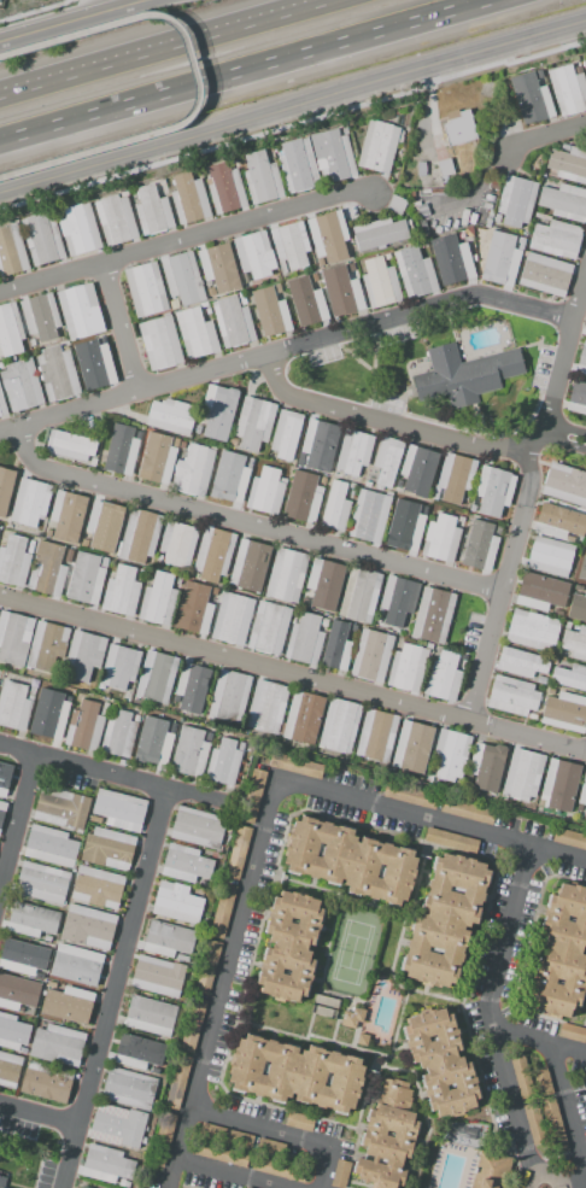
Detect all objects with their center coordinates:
road: (33, 11)
road: (68, 19)
road: (172, 49)
road: (312, 51)
building: (584, 65)
building: (539, 75)
road: (193, 77)
building: (568, 88)
building: (529, 98)
road: (293, 106)
road: (68, 121)
building: (461, 129)
building: (344, 130)
road: (544, 137)
building: (379, 146)
building: (333, 156)
building: (568, 164)
building: (297, 165)
building: (445, 168)
building: (421, 169)
building: (260, 177)
building: (163, 185)
building: (224, 188)
building: (430, 192)
building: (188, 197)
building: (515, 201)
building: (564, 201)
building: (395, 205)
building: (420, 209)
building: (152, 210)
building: (497, 218)
building: (113, 220)
building: (78, 229)
building: (379, 233)
building: (328, 236)
building: (41, 239)
building: (556, 239)
road: (183, 241)
building: (291, 245)
building: (11, 251)
building: (253, 254)
building: (387, 257)
building: (452, 261)
building: (502, 261)
building: (320, 262)
building: (218, 268)
building: (352, 268)
building: (415, 273)
building: (545, 275)
building: (182, 277)
building: (315, 277)
building: (380, 283)
building: (279, 288)
building: (146, 289)
building: (210, 292)
building: (341, 292)
building: (242, 298)
building: (306, 302)
building: (174, 304)
building: (204, 305)
building: (80, 311)
building: (207, 311)
building: (270, 312)
building: (41, 317)
building: (232, 322)
road: (118, 329)
building: (10, 330)
building: (585, 332)
building: (195, 333)
building: (160, 344)
road: (286, 350)
building: (581, 359)
building: (94, 364)
building: (57, 374)
building: (464, 375)
building: (20, 385)
building: (576, 398)
building: (2, 406)
building: (217, 412)
building: (171, 416)
road: (375, 416)
building: (253, 423)
building: (286, 434)
road: (566, 437)
building: (175, 443)
building: (70, 445)
building: (317, 445)
building: (182, 446)
building: (119, 450)
building: (353, 451)
building: (157, 460)
building: (387, 460)
building: (194, 470)
building: (417, 470)
building: (232, 478)
building: (455, 478)
building: (213, 482)
building: (566, 484)
building: (367, 485)
building: (352, 486)
building: (5, 487)
building: (493, 490)
building: (265, 491)
building: (301, 497)
road: (526, 498)
building: (30, 502)
building: (335, 508)
building: (68, 515)
building: (369, 516)
building: (461, 519)
road: (251, 521)
building: (558, 521)
building: (104, 523)
building: (406, 526)
building: (498, 531)
building: (48, 532)
building: (139, 536)
building: (441, 539)
building: (84, 542)
building: (178, 544)
building: (30, 545)
building: (480, 545)
building: (212, 554)
building: (68, 556)
building: (158, 556)
building: (550, 556)
building: (13, 561)
building: (250, 564)
building: (47, 569)
building: (582, 569)
building: (141, 574)
building: (286, 575)
building: (86, 578)
building: (324, 584)
building: (121, 591)
building: (215, 592)
building: (540, 592)
building: (358, 595)
building: (158, 599)
building: (398, 599)
building: (579, 603)
building: (193, 608)
building: (433, 616)
building: (232, 619)
building: (268, 627)
building: (532, 630)
building: (14, 638)
building: (304, 639)
building: (575, 643)
building: (46, 646)
building: (336, 646)
building: (83, 655)
building: (371, 655)
building: (520, 662)
building: (118, 667)
building: (408, 667)
road: (292, 673)
building: (570, 675)
building: (157, 677)
building: (443, 677)
building: (194, 687)
building: (30, 692)
building: (230, 696)
building: (512, 696)
building: (68, 698)
building: (13, 706)
building: (266, 707)
building: (104, 708)
building: (564, 712)
building: (47, 716)
building: (304, 718)
building: (84, 726)
building: (339, 726)
building: (118, 735)
building: (376, 735)
building: (152, 745)
building: (412, 748)
building: (189, 751)
building: (450, 756)
building: (223, 762)
building: (486, 763)
building: (299, 766)
road: (109, 772)
building: (522, 776)
building: (4, 777)
building: (559, 783)
building: (252, 795)
building: (582, 795)
building: (412, 797)
road: (14, 809)
building: (61, 809)
building: (119, 809)
building: (467, 810)
building: (2, 812)
road: (403, 812)
building: (94, 820)
building: (197, 827)
building: (569, 837)
building: (451, 841)
building: (49, 845)
building: (107, 849)
building: (238, 853)
road: (558, 854)
building: (350, 860)
building: (184, 864)
building: (585, 882)
building: (42, 883)
building: (98, 888)
building: (177, 903)
building: (223, 906)
building: (31, 920)
building: (446, 920)
building: (88, 926)
building: (47, 938)
building: (169, 938)
building: (289, 947)
building: (562, 953)
building: (23, 955)
building: (182, 958)
building: (76, 965)
road: (224, 968)
building: (206, 971)
building: (158, 977)
building: (51, 985)
road: (116, 988)
building: (17, 993)
building: (68, 1005)
building: (150, 1017)
road: (511, 1025)
building: (192, 1026)
building: (13, 1032)
building: (572, 1032)
building: (58, 1044)
building: (137, 1052)
building: (440, 1063)
building: (8, 1069)
building: (295, 1073)
building: (522, 1078)
building: (46, 1081)
building: (541, 1081)
building: (177, 1082)
road: (508, 1087)
building: (128, 1088)
road: (40, 1117)
building: (298, 1122)
building: (535, 1124)
building: (117, 1125)
building: (553, 1125)
road: (276, 1130)
building: (461, 1134)
building: (225, 1136)
building: (388, 1136)
building: (163, 1139)
building: (270, 1147)
building: (221, 1153)
building: (106, 1164)
building: (279, 1169)
building: (492, 1170)
road: (547, 1170)
road: (225, 1174)
building: (340, 1174)
building: (1, 1182)
building: (83, 1187)
building: (247, 1187)

